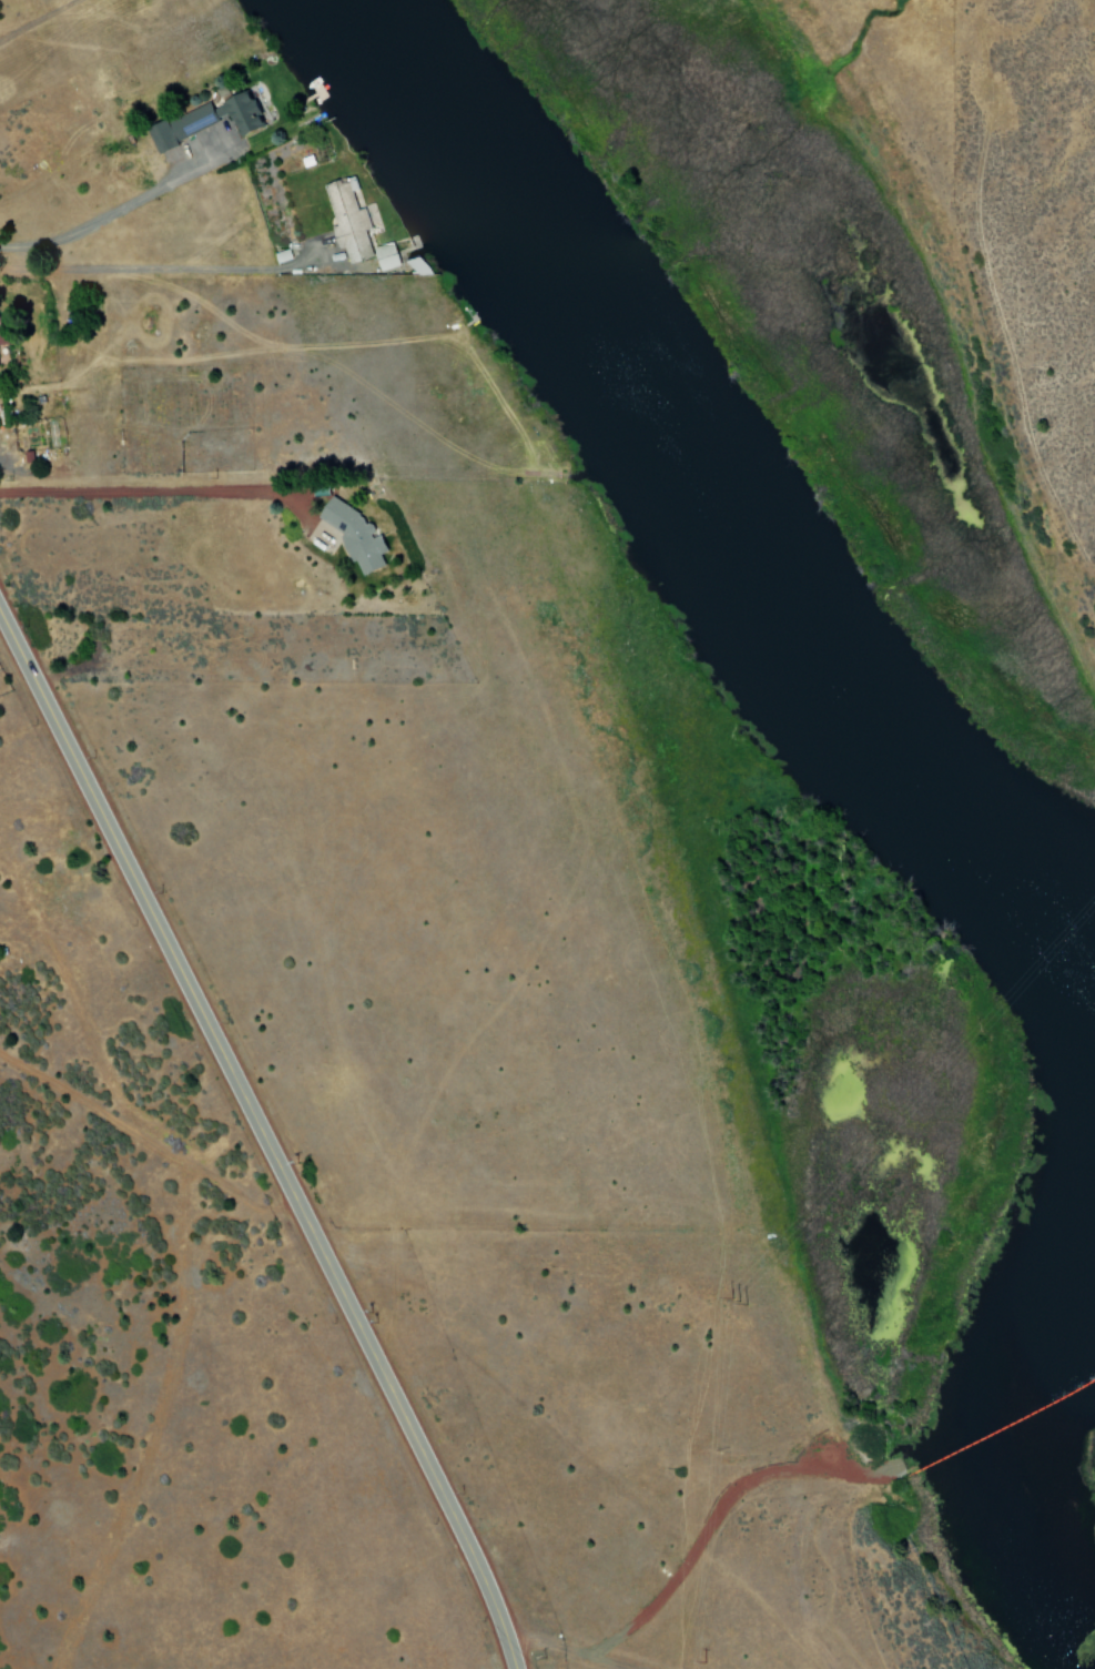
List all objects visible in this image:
river: (393, 64)
building: (237, 113)
building: (180, 127)
building: (346, 220)
building: (384, 256)
building: (3, 336)
building: (353, 537)
river: (760, 596)
road: (263, 1139)
road: (153, 1142)
power tower: (737, 1302)
river: (1073, 1321)
road: (567, 1650)

